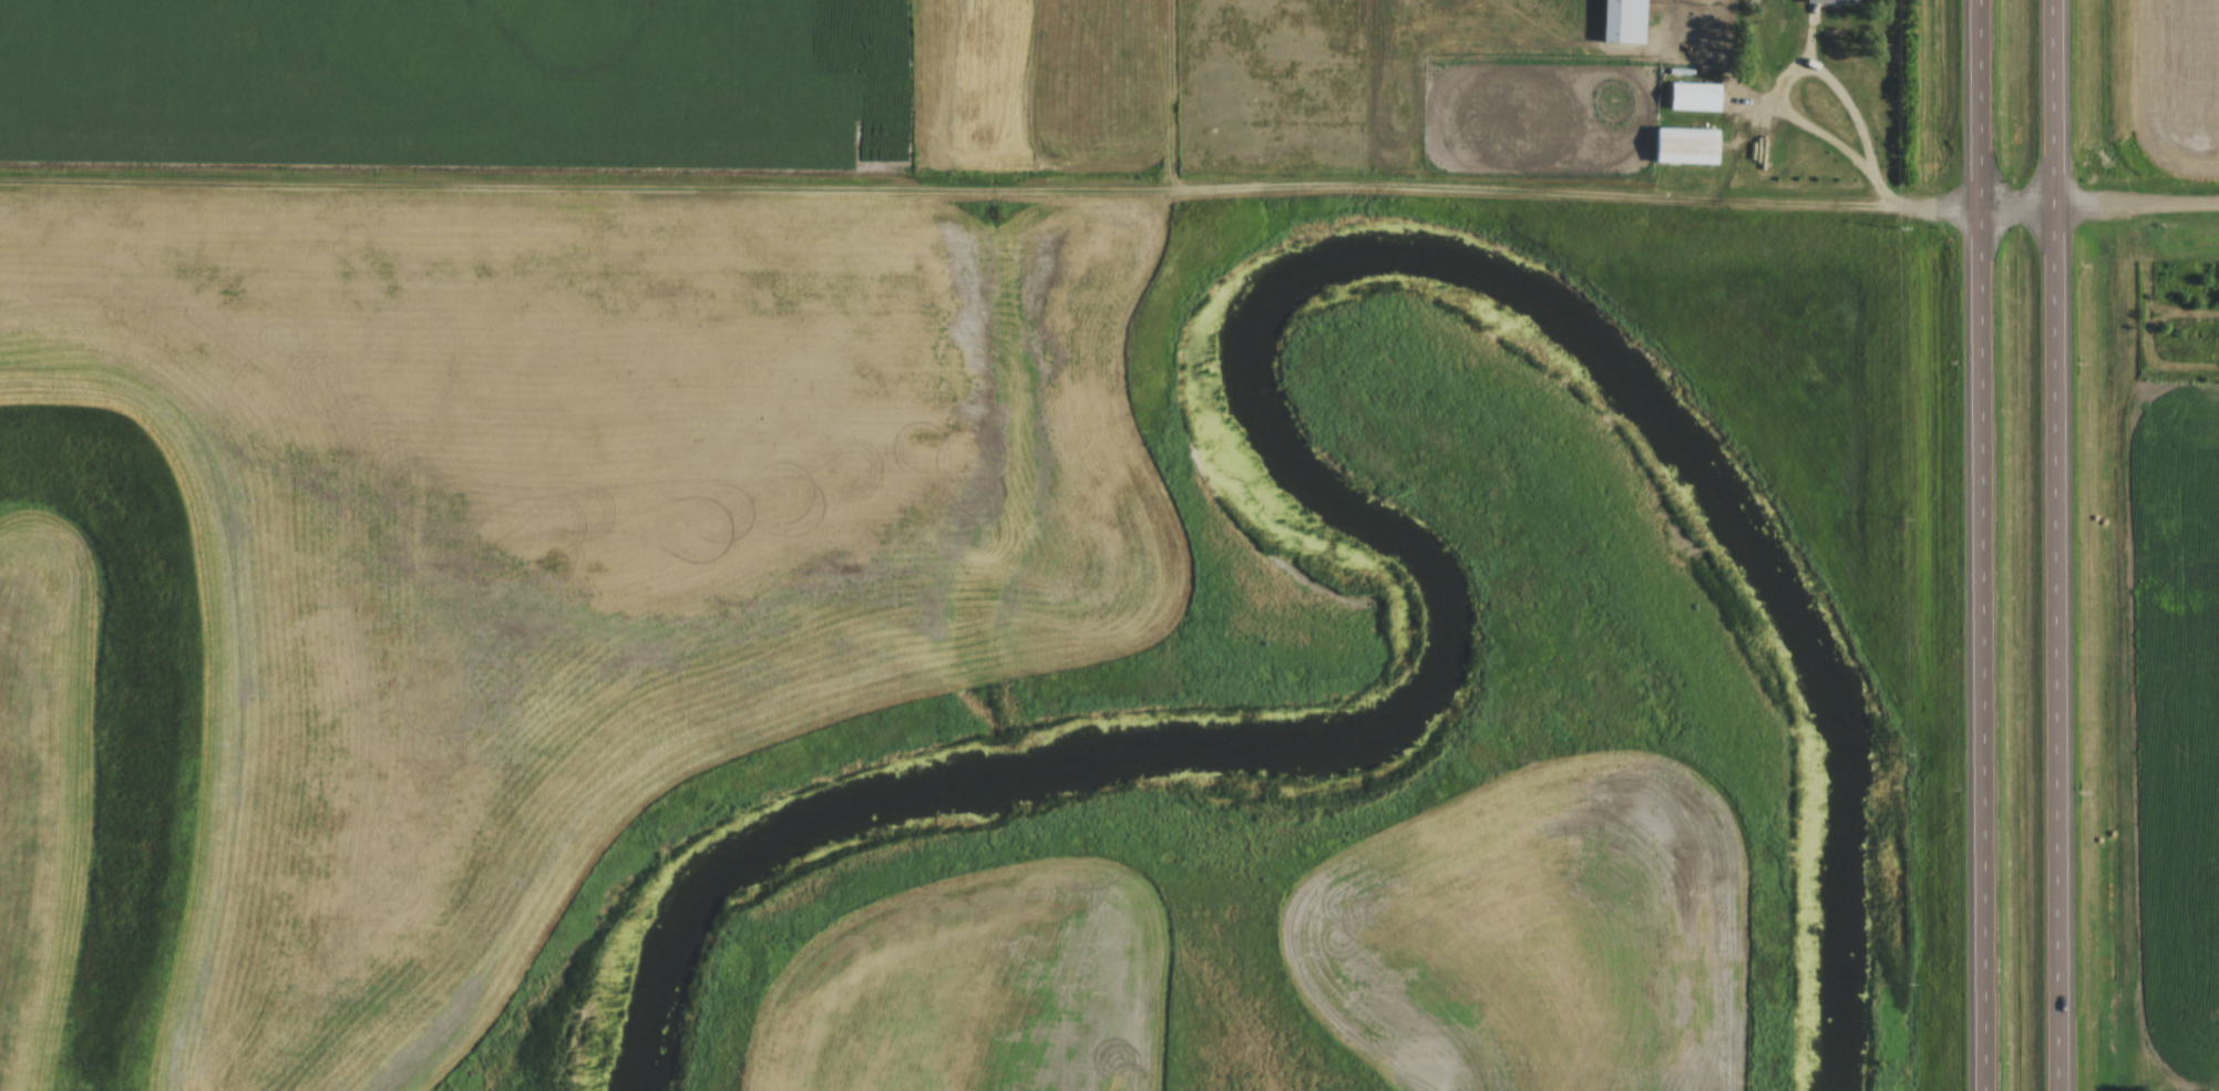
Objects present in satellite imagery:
building: (1828, 1)
building: (1621, 21)
building: (1692, 91)
road: (1965, 92)
road: (2044, 93)
building: (1684, 144)
building: (1821, 177)
road: (1109, 178)
road: (1969, 638)
road: (2050, 639)

